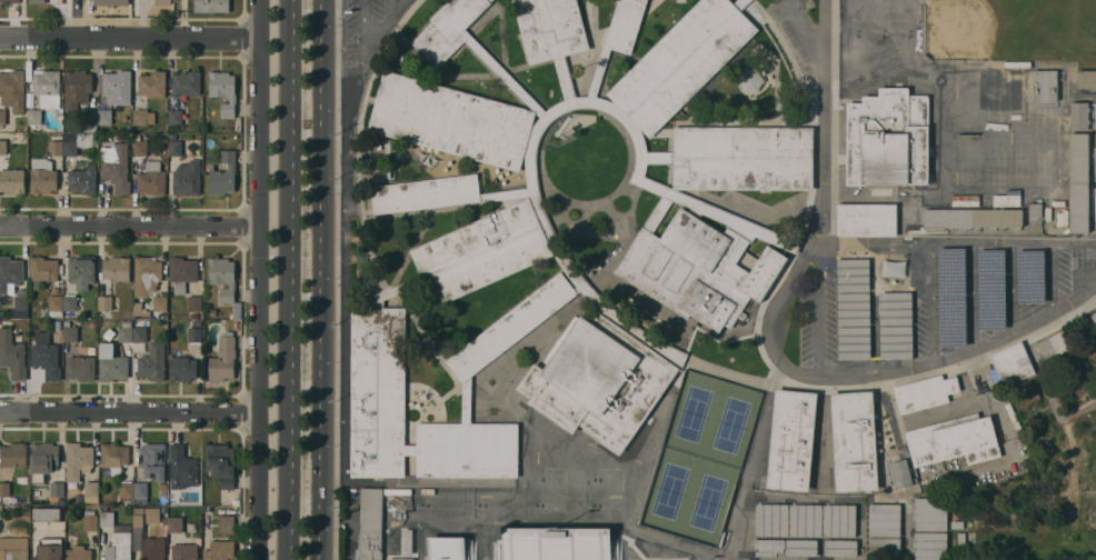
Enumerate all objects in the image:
building: (9, 1)
building: (37, 1)
building: (111, 2)
building: (163, 2)
building: (741, 3)
building: (211, 6)
park: (855, 16)
park: (880, 16)
park: (905, 17)
road: (362, 21)
road: (382, 21)
building: (625, 24)
road: (801, 27)
building: (550, 28)
building: (447, 29)
park: (960, 29)
road: (129, 31)
park: (855, 48)
park: (880, 48)
park: (904, 48)
building: (681, 62)
building: (1086, 79)
building: (187, 82)
building: (152, 83)
building: (1045, 84)
building: (118, 87)
building: (48, 88)
building: (77, 88)
building: (12, 90)
building: (223, 90)
building: (1079, 114)
building: (34, 116)
building: (2, 117)
building: (104, 117)
building: (143, 117)
building: (176, 117)
building: (90, 120)
building: (451, 120)
road: (818, 121)
building: (137, 136)
building: (171, 136)
building: (129, 137)
building: (888, 138)
building: (78, 141)
building: (57, 144)
building: (3, 146)
building: (140, 147)
building: (176, 148)
building: (743, 157)
building: (116, 167)
building: (223, 173)
building: (42, 176)
building: (187, 177)
building: (152, 178)
building: (83, 179)
building: (12, 180)
building: (1079, 182)
building: (425, 193)
building: (693, 202)
building: (1035, 209)
building: (970, 217)
building: (867, 219)
road: (129, 230)
road: (956, 241)
building: (481, 251)
building: (697, 266)
building: (117, 268)
building: (43, 270)
building: (82, 271)
building: (182, 272)
building: (10, 273)
building: (854, 274)
building: (1030, 276)
building: (150, 279)
road: (258, 280)
road: (290, 280)
road: (320, 280)
building: (225, 281)
building: (993, 289)
building: (395, 290)
road: (1078, 296)
building: (950, 297)
road: (933, 301)
building: (73, 302)
building: (106, 302)
building: (195, 302)
building: (56, 304)
building: (20, 307)
road: (817, 307)
building: (896, 307)
building: (854, 308)
building: (140, 310)
building: (212, 312)
building: (195, 314)
building: (1094, 316)
road: (769, 317)
building: (197, 322)
building: (57, 324)
building: (511, 326)
building: (70, 331)
building: (126, 331)
building: (109, 333)
building: (195, 333)
building: (896, 341)
building: (855, 342)
building: (1056, 343)
building: (12, 353)
building: (149, 353)
building: (47, 354)
building: (223, 358)
road: (944, 358)
building: (1080, 361)
building: (111, 362)
building: (1013, 363)
building: (378, 364)
building: (82, 367)
building: (182, 368)
building: (599, 380)
building: (925, 391)
building: (1030, 394)
building: (467, 400)
road: (128, 404)
building: (793, 439)
building: (855, 440)
building: (954, 440)
building: (13, 454)
building: (114, 456)
park: (703, 456)
building: (43, 459)
building: (153, 459)
building: (78, 460)
building: (182, 463)
building: (222, 463)
building: (900, 472)
building: (4, 488)
building: (57, 488)
building: (127, 489)
building: (141, 489)
building: (162, 489)
building: (91, 491)
building: (236, 500)
building: (47, 513)
building: (931, 513)
building: (90, 519)
building: (771, 519)
building: (805, 519)
building: (839, 519)
building: (885, 519)
building: (175, 523)
building: (227, 523)
building: (370, 523)
building: (957, 523)
building: (139, 531)
building: (117, 538)
building: (960, 538)
building: (408, 541)
building: (557, 542)
building: (769, 542)
building: (884, 544)
building: (930, 546)
building: (801, 547)
building: (841, 547)
building: (13, 548)
building: (447, 548)
building: (49, 549)
building: (219, 550)
building: (185, 551)
building: (79, 552)
building: (401, 559)

